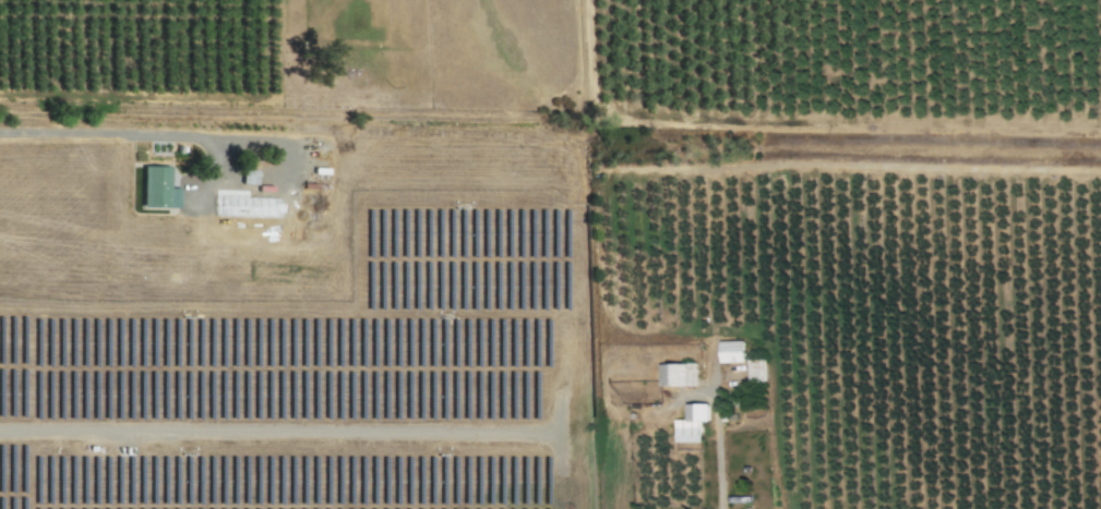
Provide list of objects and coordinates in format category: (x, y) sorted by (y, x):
road: (134, 133)
building: (247, 178)
building: (156, 187)
building: (246, 208)
building: (731, 351)
building: (755, 369)
building: (677, 374)
solar farm: (324, 377)
building: (691, 423)

